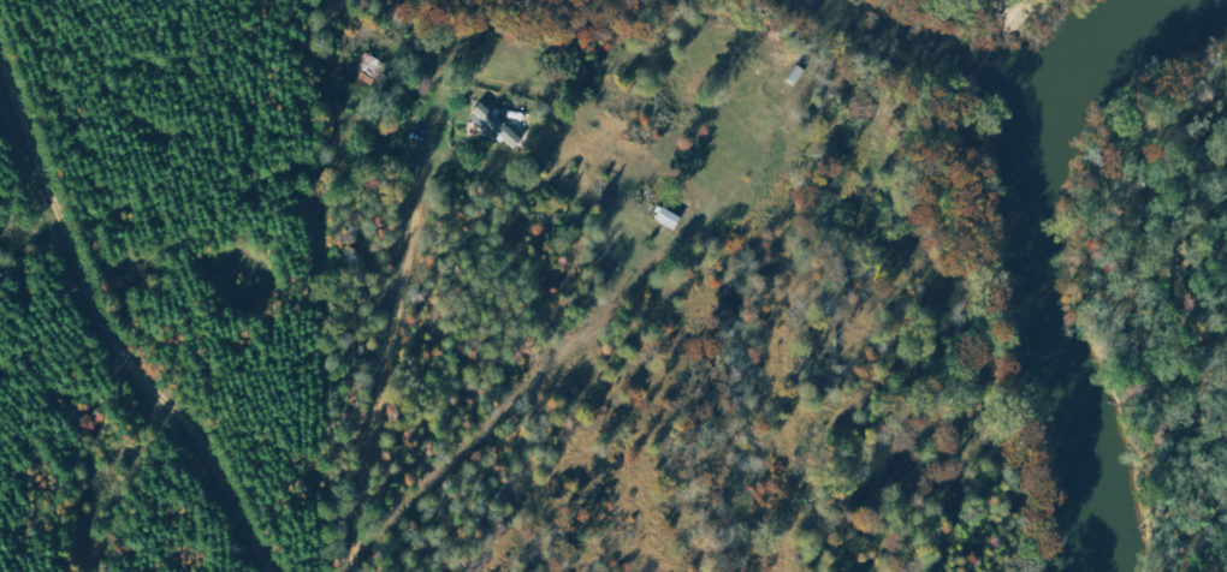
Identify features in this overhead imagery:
river: (946, 53)
river: (1043, 252)
road: (113, 332)
road: (384, 363)

